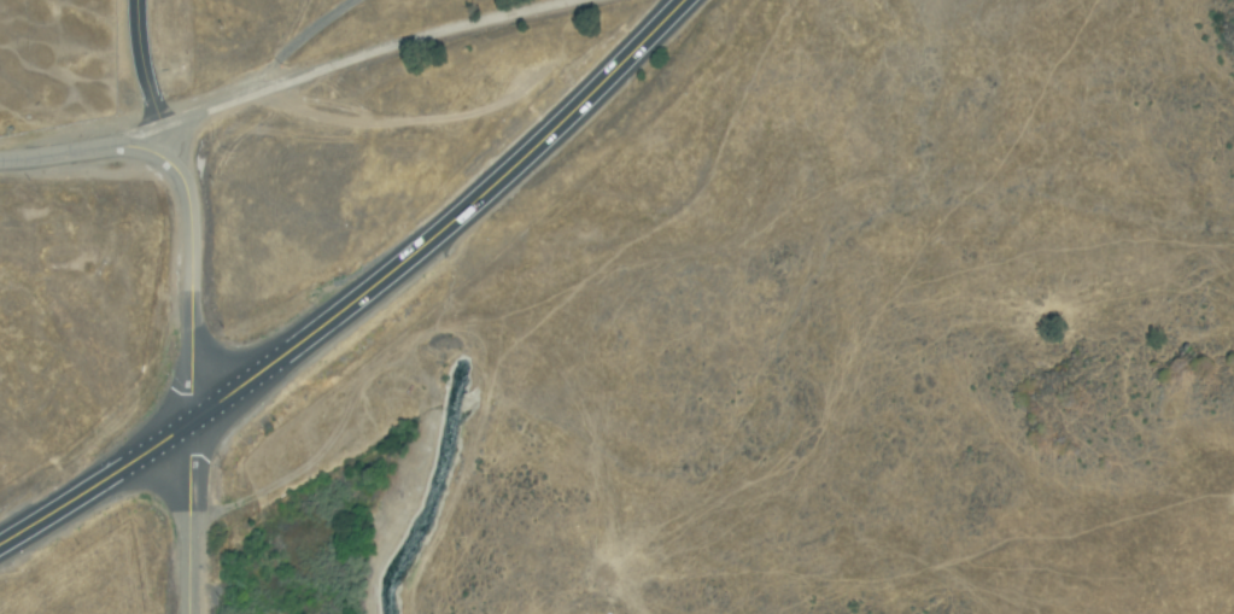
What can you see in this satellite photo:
road: (305, 37)
road: (420, 43)
road: (146, 75)
road: (206, 112)
road: (76, 150)
road: (187, 280)
road: (357, 293)
road: (189, 517)

